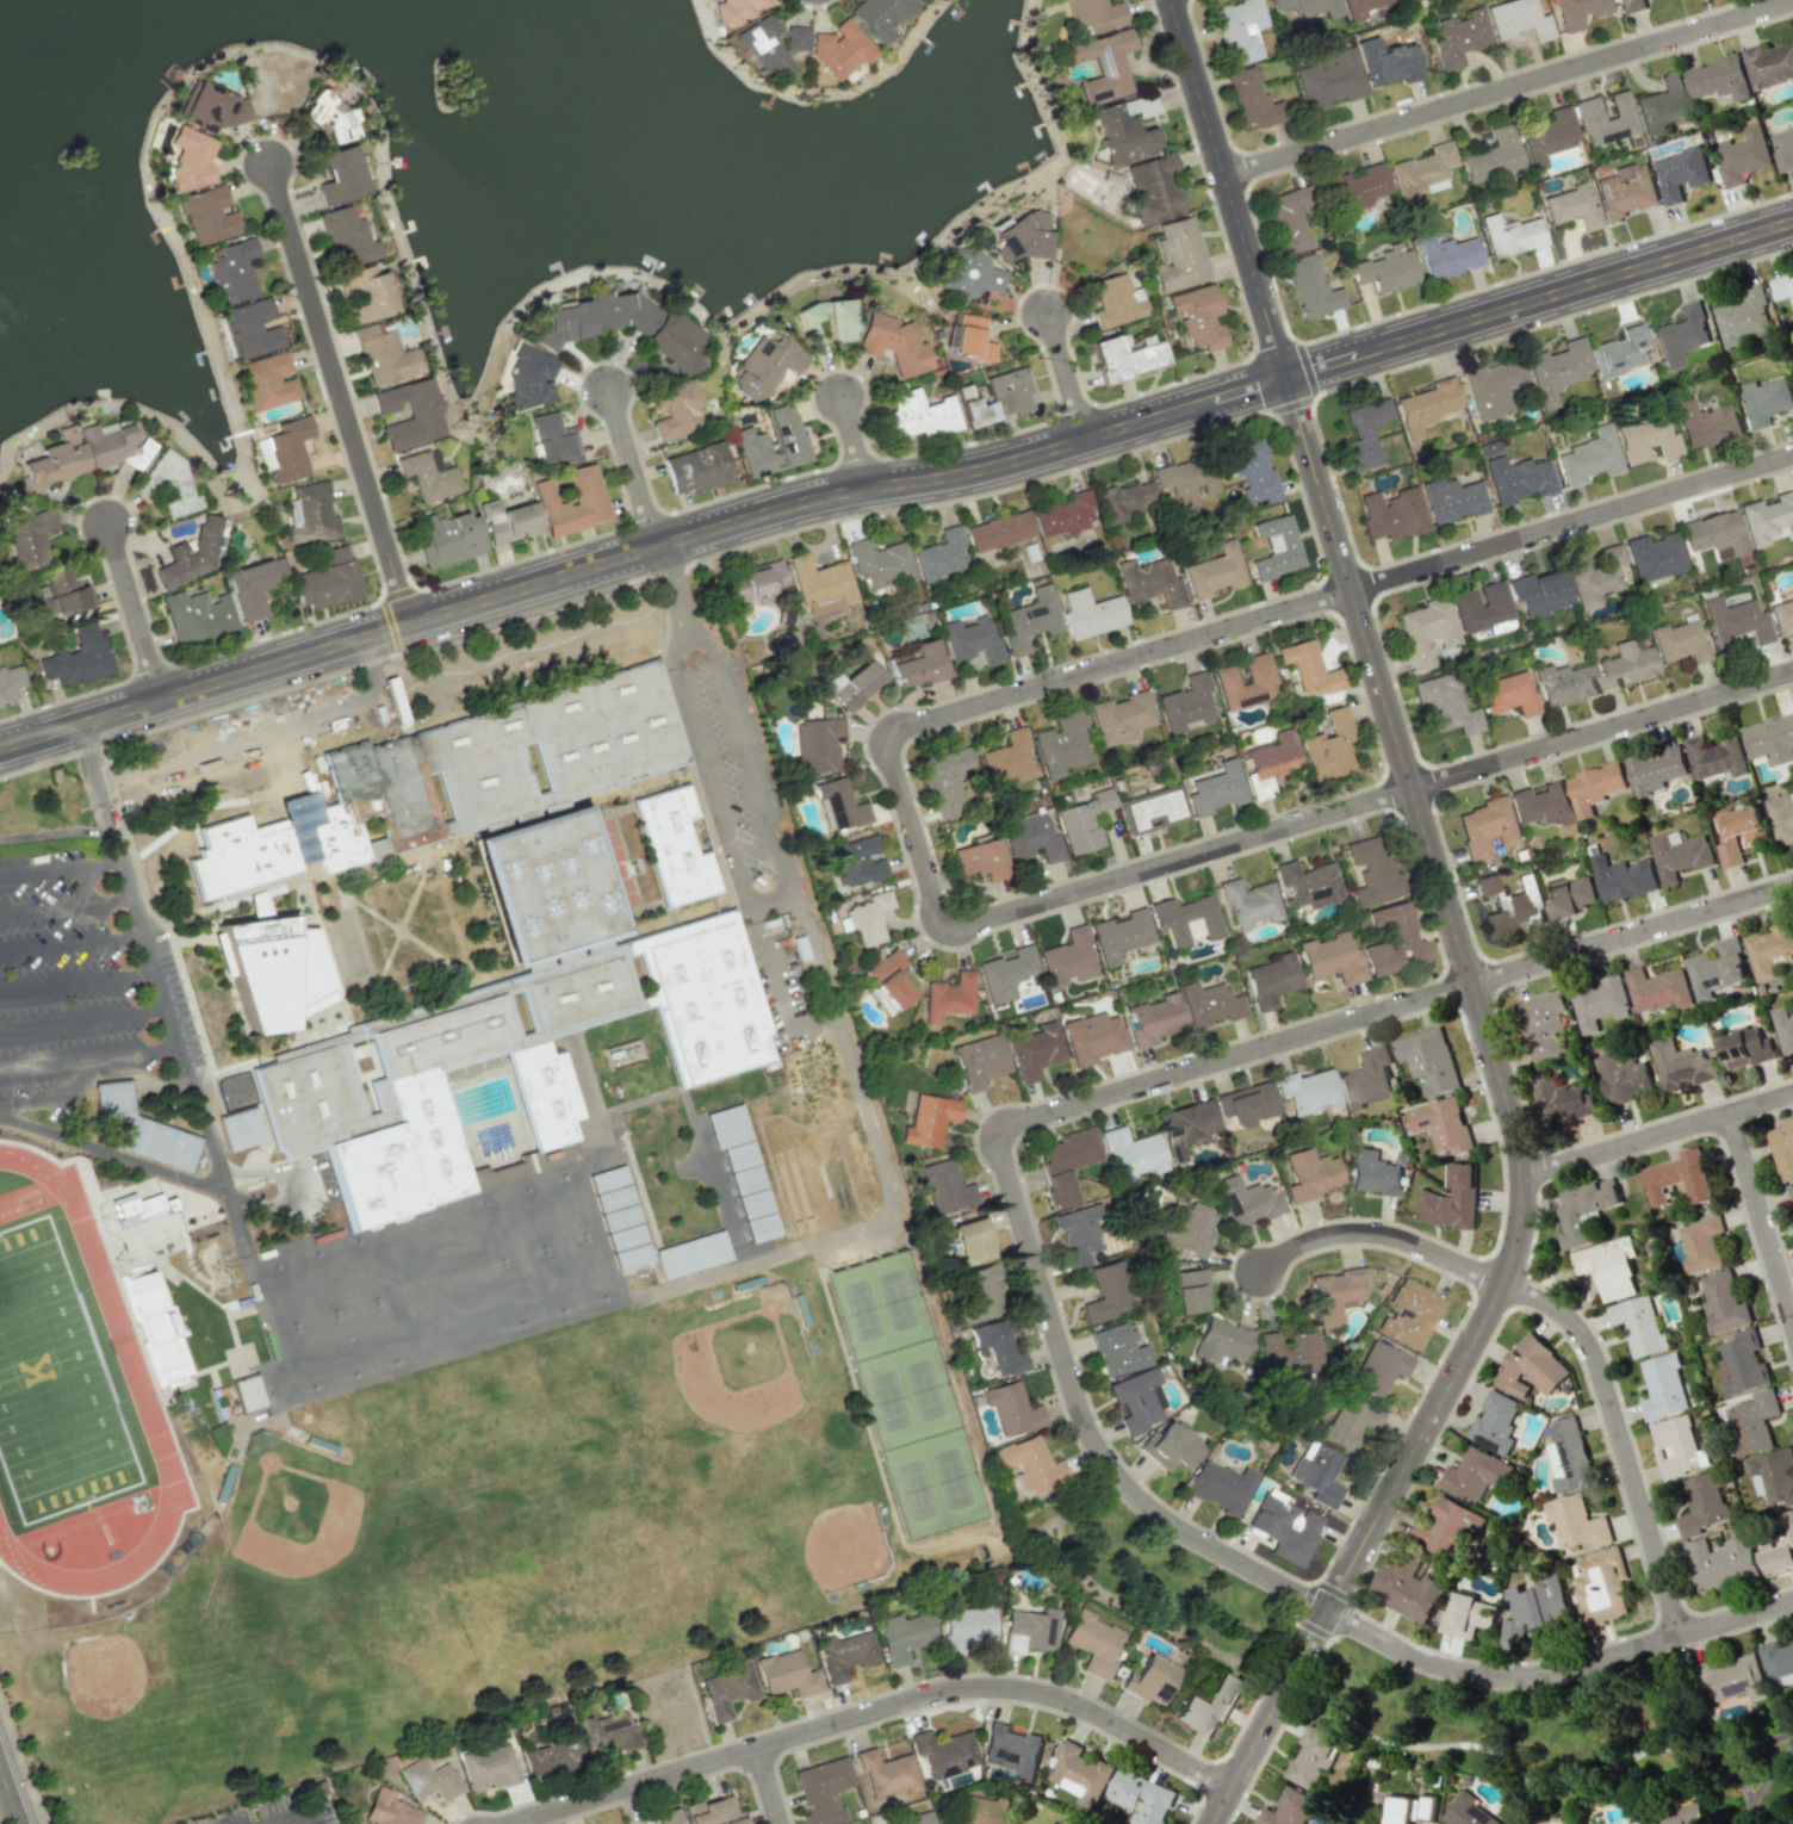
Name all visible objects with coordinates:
building: (1634, 5)
building: (1308, 6)
building: (1360, 7)
building: (733, 11)
building: (1577, 12)
building: (1093, 14)
building: (880, 15)
building: (1518, 19)
building: (1239, 30)
building: (1459, 37)
building: (769, 45)
building: (839, 49)
building: (1386, 62)
building: (1769, 64)
building: (1104, 66)
building: (1719, 77)
building: (1328, 80)
road: (1508, 87)
building: (1249, 99)
building: (1662, 105)
building: (210, 107)
building: (327, 118)
building: (1605, 119)
building: (1122, 134)
building: (1546, 136)
building: (1783, 148)
building: (1743, 155)
building: (1493, 156)
building: (190, 159)
building: (1599, 169)
building: (1420, 170)
building: (1681, 173)
building: (340, 175)
building: (1153, 188)
road: (1230, 188)
building: (1358, 188)
building: (1627, 191)
building: (1571, 207)
building: (207, 215)
building: (1290, 222)
building: (1509, 235)
building: (347, 237)
building: (1020, 237)
building: (1178, 255)
building: (1446, 255)
building: (1385, 268)
building: (232, 271)
building: (969, 274)
building: (1311, 287)
building: (1782, 287)
building: (365, 293)
road: (1539, 298)
building: (1116, 300)
building: (621, 311)
building: (805, 314)
building: (1198, 316)
building: (1743, 316)
building: (837, 319)
building: (564, 323)
building: (249, 329)
building: (1681, 334)
building: (676, 342)
building: (893, 343)
building: (1618, 350)
building: (385, 356)
building: (1124, 356)
building: (763, 367)
building: (1556, 370)
road: (1067, 373)
building: (267, 381)
building: (529, 383)
building: (1493, 386)
road: (1315, 393)
road: (342, 395)
building: (997, 398)
building: (1767, 399)
building: (1425, 407)
building: (676, 409)
building: (410, 412)
building: (919, 414)
building: (1705, 422)
building: (1364, 433)
building: (1645, 438)
building: (553, 440)
road: (856, 440)
building: (773, 442)
building: (112, 446)
building: (1589, 457)
building: (51, 463)
road: (633, 467)
building: (696, 469)
building: (1249, 469)
road: (974, 471)
building: (428, 474)
building: (1516, 479)
building: (169, 483)
building: (1184, 483)
building: (1123, 500)
building: (1452, 500)
building: (572, 502)
building: (309, 513)
building: (1391, 514)
building: (1063, 515)
building: (1767, 517)
building: (508, 521)
road: (1572, 523)
building: (998, 531)
building: (1713, 533)
building: (27, 536)
building: (448, 538)
building: (1274, 548)
building: (191, 553)
building: (939, 556)
building: (1654, 556)
building: (880, 562)
building: (1215, 572)
building: (1594, 576)
building: (328, 579)
building: (756, 582)
building: (1152, 582)
building: (821, 584)
building: (253, 587)
building: (1539, 591)
building: (64, 593)
road: (672, 593)
building: (1481, 608)
road: (136, 610)
building: (1087, 613)
building: (198, 615)
building: (1782, 615)
building: (1029, 620)
building: (1736, 620)
road: (385, 627)
building: (1426, 631)
building: (972, 639)
building: (1680, 641)
road: (329, 651)
building: (79, 658)
building: (917, 664)
building: (1625, 665)
building: (1307, 668)
building: (10, 683)
building: (1245, 683)
building: (1564, 684)
building: (855, 685)
building: (1506, 693)
building: (1184, 702)
building: (1445, 705)
building: (1121, 718)
road: (1602, 730)
road: (262, 736)
building: (1770, 739)
building: (1328, 743)
building: (1061, 744)
building: (817, 745)
building: (1272, 756)
building: (1716, 757)
building: (1009, 759)
building: (1655, 769)
building: (457, 777)
building: (944, 781)
building: (1594, 787)
building: (1215, 789)
building: (839, 804)
building: (1541, 804)
building: (1153, 808)
building: (1781, 817)
building: (1082, 821)
building: (1485, 826)
road: (112, 827)
road: (57, 831)
road: (910, 832)
building: (1737, 833)
building: (1031, 836)
building: (674, 845)
building: (1679, 855)
building: (980, 858)
building: (857, 861)
road: (61, 869)
building: (1371, 870)
building: (1624, 877)
building: (1309, 882)
road: (83, 885)
building: (544, 885)
building: (1569, 895)
road: (767, 898)
building: (1249, 902)
road: (64, 904)
building: (1506, 905)
road: (753, 911)
building: (868, 917)
building: (1187, 918)
building: (1121, 933)
road: (1631, 935)
building: (1392, 941)
road: (70, 942)
building: (1769, 950)
building: (1069, 957)
building: (1332, 958)
building: (1717, 968)
road: (773, 969)
building: (274, 970)
building: (1006, 972)
road: (76, 979)
building: (888, 979)
building: (1271, 980)
parking lot: (74, 987)
road: (159, 988)
building: (1658, 988)
building: (949, 995)
building: (1600, 1003)
building: (1209, 1004)
road: (82, 1018)
building: (1154, 1018)
road: (812, 1022)
building: (1543, 1025)
building: (1783, 1028)
road: (794, 1030)
building: (1092, 1037)
building: (1744, 1047)
building: (1035, 1050)
road: (88, 1055)
building: (1428, 1059)
building: (979, 1061)
building: (1680, 1065)
building: (1621, 1078)
building: (1366, 1079)
building: (1307, 1092)
road: (35, 1100)
building: (1562, 1102)
building: (1247, 1104)
building: (930, 1118)
road: (1512, 1123)
building: (1440, 1124)
building: (1187, 1125)
building: (143, 1129)
building: (238, 1129)
road: (1657, 1135)
building: (1782, 1148)
building: (1131, 1153)
building: (1067, 1164)
building: (742, 1170)
building: (1372, 1173)
building: (1310, 1174)
road: (181, 1177)
building: (1679, 1177)
building: (936, 1185)
road: (1010, 1186)
building: (1791, 1191)
road: (893, 1198)
building: (1246, 1201)
building: (1451, 1201)
park: (573, 1206)
building: (1583, 1209)
building: (619, 1217)
road: (1760, 1218)
building: (1190, 1229)
building: (1079, 1235)
building: (970, 1242)
building: (1701, 1243)
building: (691, 1254)
building: (1608, 1266)
park: (365, 1270)
park: (324, 1283)
building: (1190, 1291)
building: (978, 1293)
building: (1106, 1293)
building: (1336, 1293)
park: (283, 1295)
park: (896, 1298)
building: (1724, 1302)
park: (862, 1310)
building: (1408, 1314)
road: (1570, 1321)
building: (1639, 1326)
park: (384, 1333)
building: (1221, 1340)
park: (343, 1346)
building: (997, 1347)
building: (1118, 1351)
building: (1289, 1354)
park: (302, 1358)
building: (167, 1360)
building: (1742, 1363)
building: (1531, 1367)
building: (1375, 1369)
building: (1663, 1386)
park: (48, 1388)
park: (925, 1389)
building: (247, 1394)
park: (889, 1400)
track: (72, 1401)
building: (1139, 1401)
building: (1011, 1408)
building: (1495, 1421)
building: (1348, 1422)
building: (1752, 1422)
building: (1172, 1445)
building: (1677, 1446)
building: (1568, 1454)
building: (1030, 1464)
building: (1316, 1474)
building: (1475, 1474)
building: (1773, 1476)
park: (953, 1478)
building: (1218, 1487)
park: (917, 1489)
building: (1704, 1505)
building: (1577, 1522)
building: (1446, 1526)
building: (1284, 1527)
building: (1779, 1551)
building: (1721, 1562)
building: (1408, 1587)
building: (1600, 1587)
building: (1532, 1608)
building: (1465, 1615)
building: (966, 1626)
building: (1028, 1631)
building: (904, 1636)
building: (1093, 1643)
building: (844, 1655)
road: (1555, 1671)
park: (104, 1674)
building: (787, 1674)
building: (1733, 1676)
building: (1150, 1680)
building: (728, 1689)
building: (1208, 1706)
road: (875, 1711)
park: (1561, 1731)
building: (607, 1735)
building: (553, 1749)
building: (894, 1749)
building: (1011, 1750)
building: (944, 1752)
building: (1311, 1756)
building: (489, 1768)
building: (1078, 1773)
building: (887, 1774)
building: (429, 1780)
road: (768, 1786)
building: (823, 1791)
building: (1141, 1797)
road: (8, 1799)
building: (1288, 1809)
building: (1410, 1809)
building: (389, 1810)
building: (978, 1810)
building: (714, 1812)
building: (1469, 1812)
building: (1688, 1814)
building: (666, 1817)
road: (300, 1818)
building: (922, 1818)
building: (1053, 1823)
building: (1347, 1823)
building: (1638, 1823)

